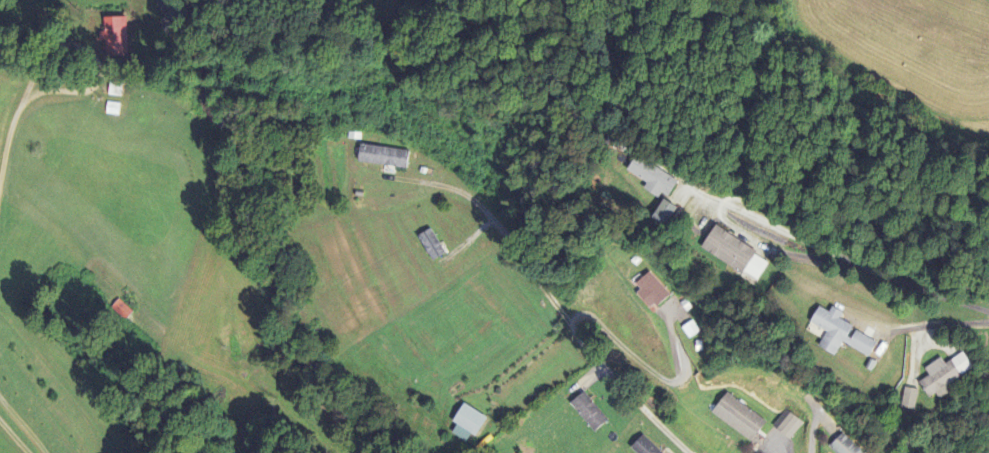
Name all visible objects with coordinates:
road: (20, 115)
building: (382, 157)
building: (652, 178)
building: (665, 211)
building: (430, 245)
building: (728, 250)
building: (650, 291)
building: (120, 311)
road: (568, 317)
building: (839, 334)
building: (944, 377)
building: (909, 399)
building: (587, 413)
building: (738, 418)
building: (467, 424)
road: (21, 427)
building: (789, 427)
building: (843, 446)
building: (643, 447)

